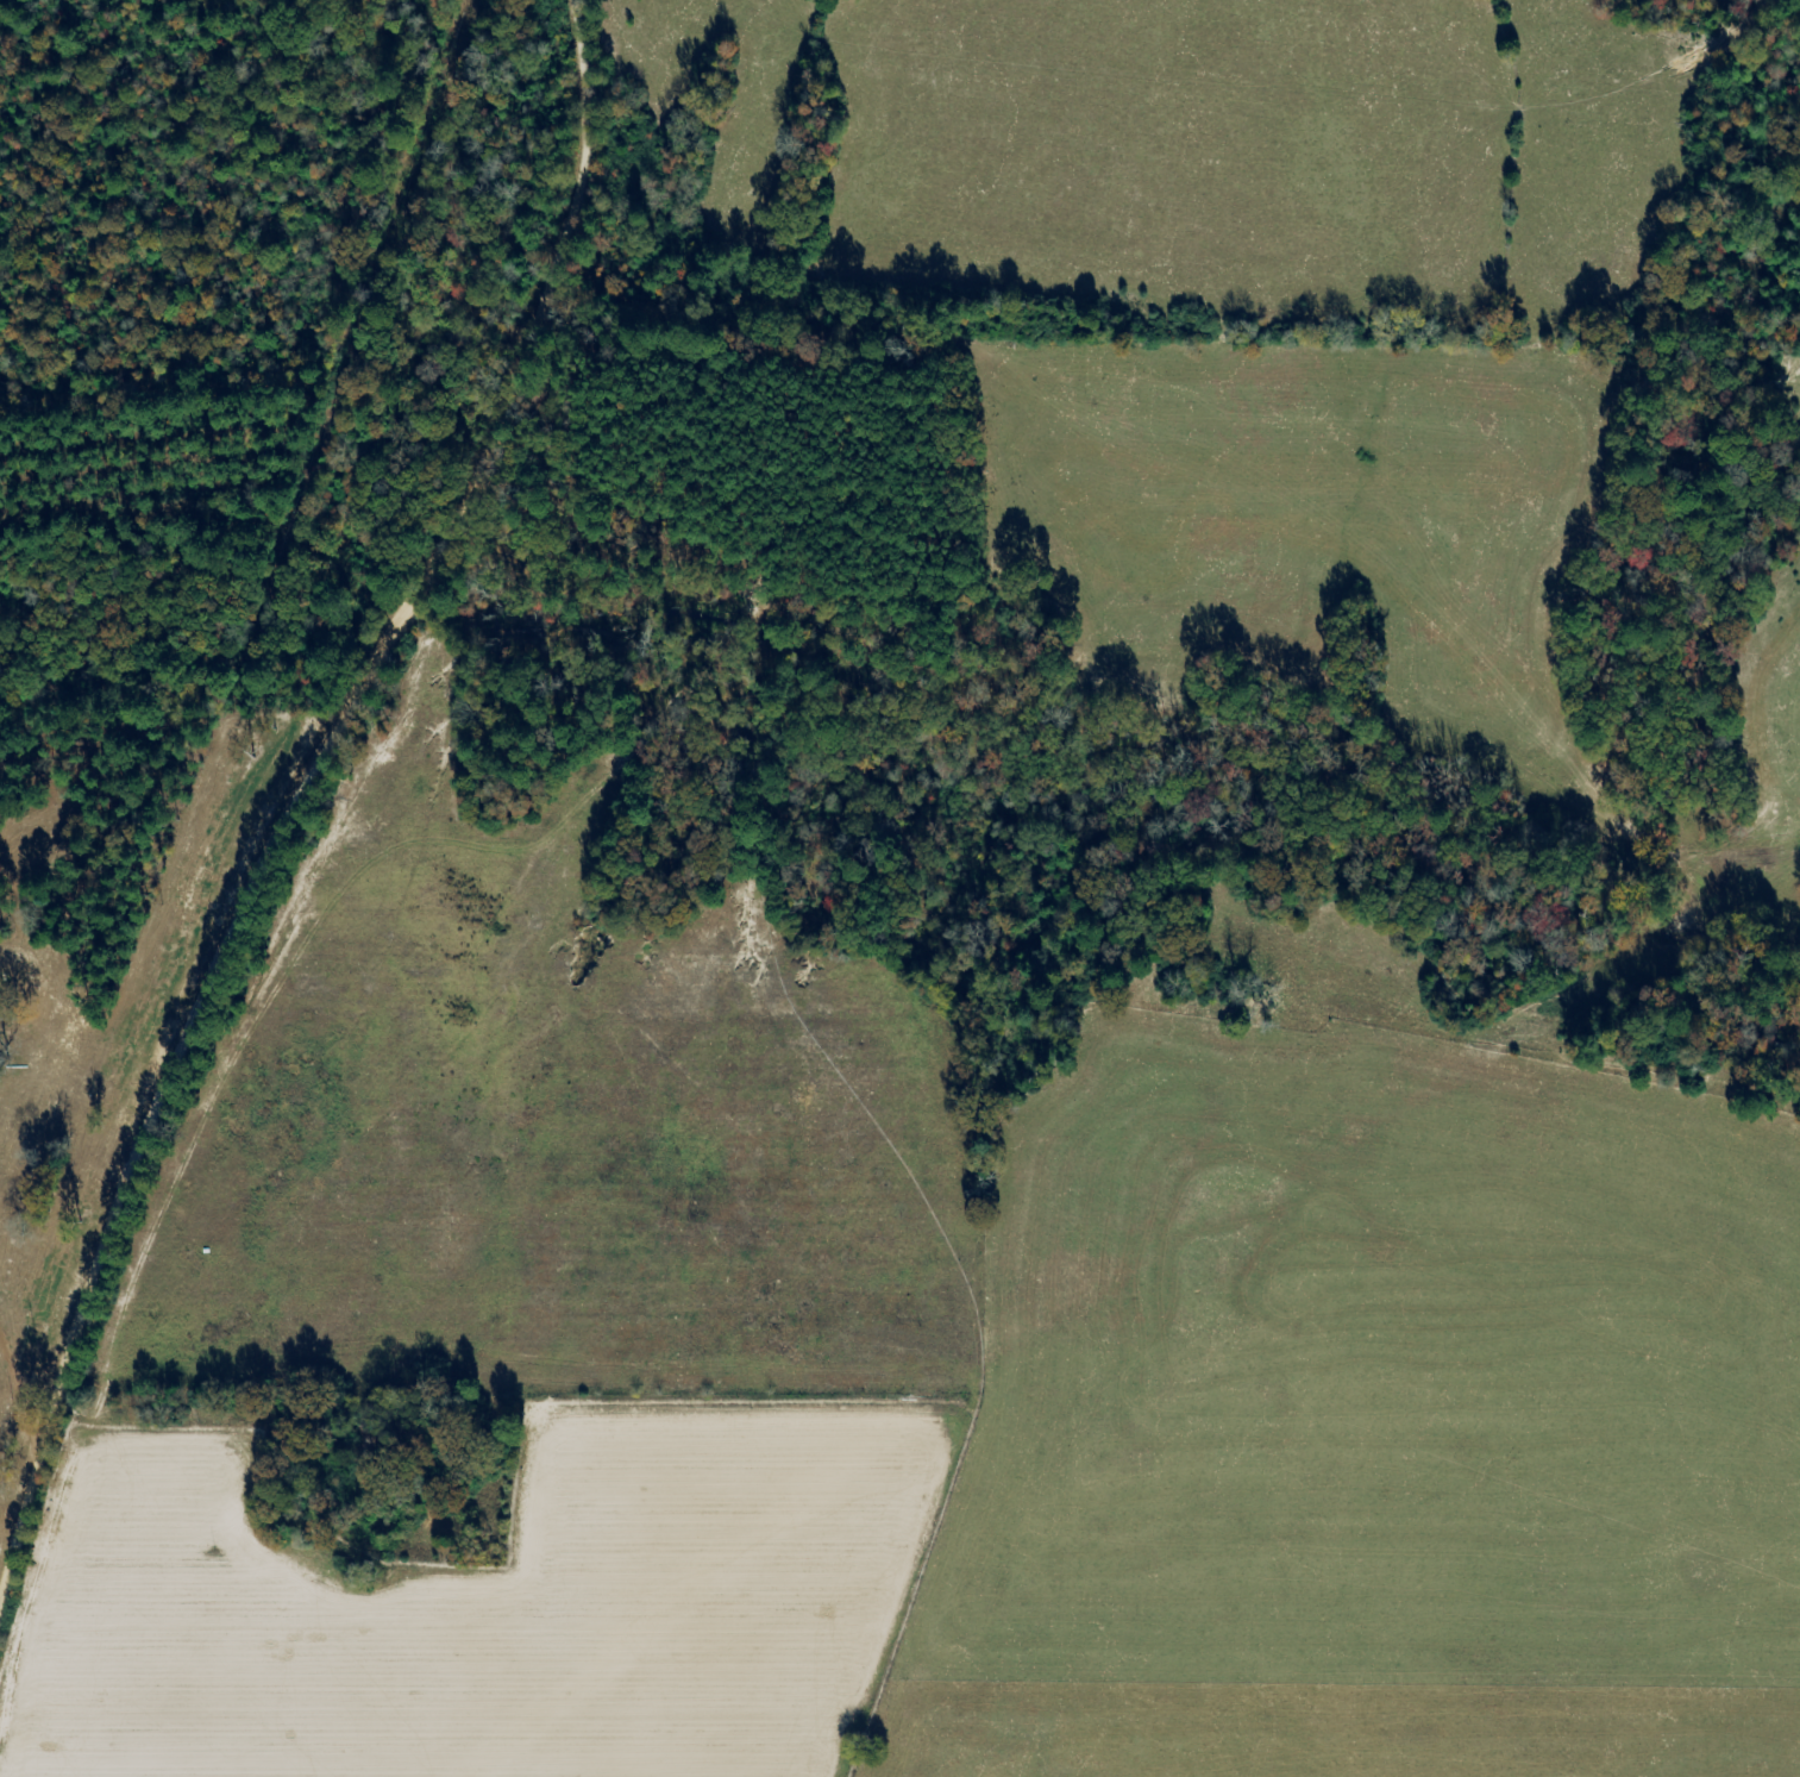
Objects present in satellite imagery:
road: (294, 791)

